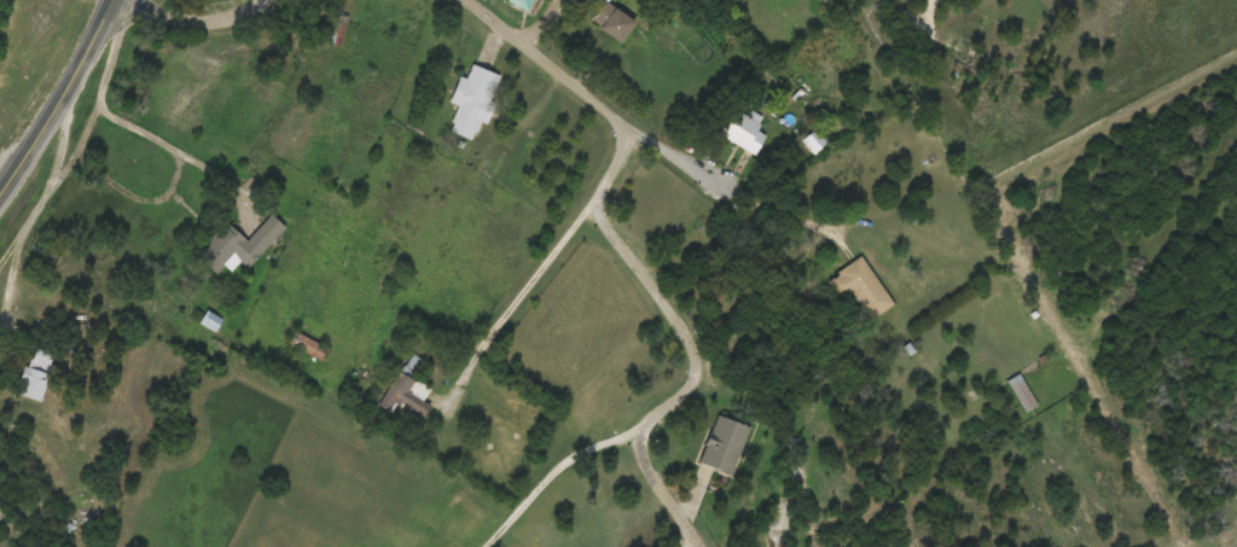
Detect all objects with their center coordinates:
building: (525, 4)
road: (213, 8)
building: (611, 21)
building: (337, 29)
road: (59, 95)
building: (474, 101)
building: (743, 130)
building: (813, 141)
building: (239, 245)
road: (650, 261)
building: (861, 287)
building: (308, 345)
road: (260, 355)
building: (1022, 392)
building: (406, 396)
building: (724, 444)
road: (487, 540)

